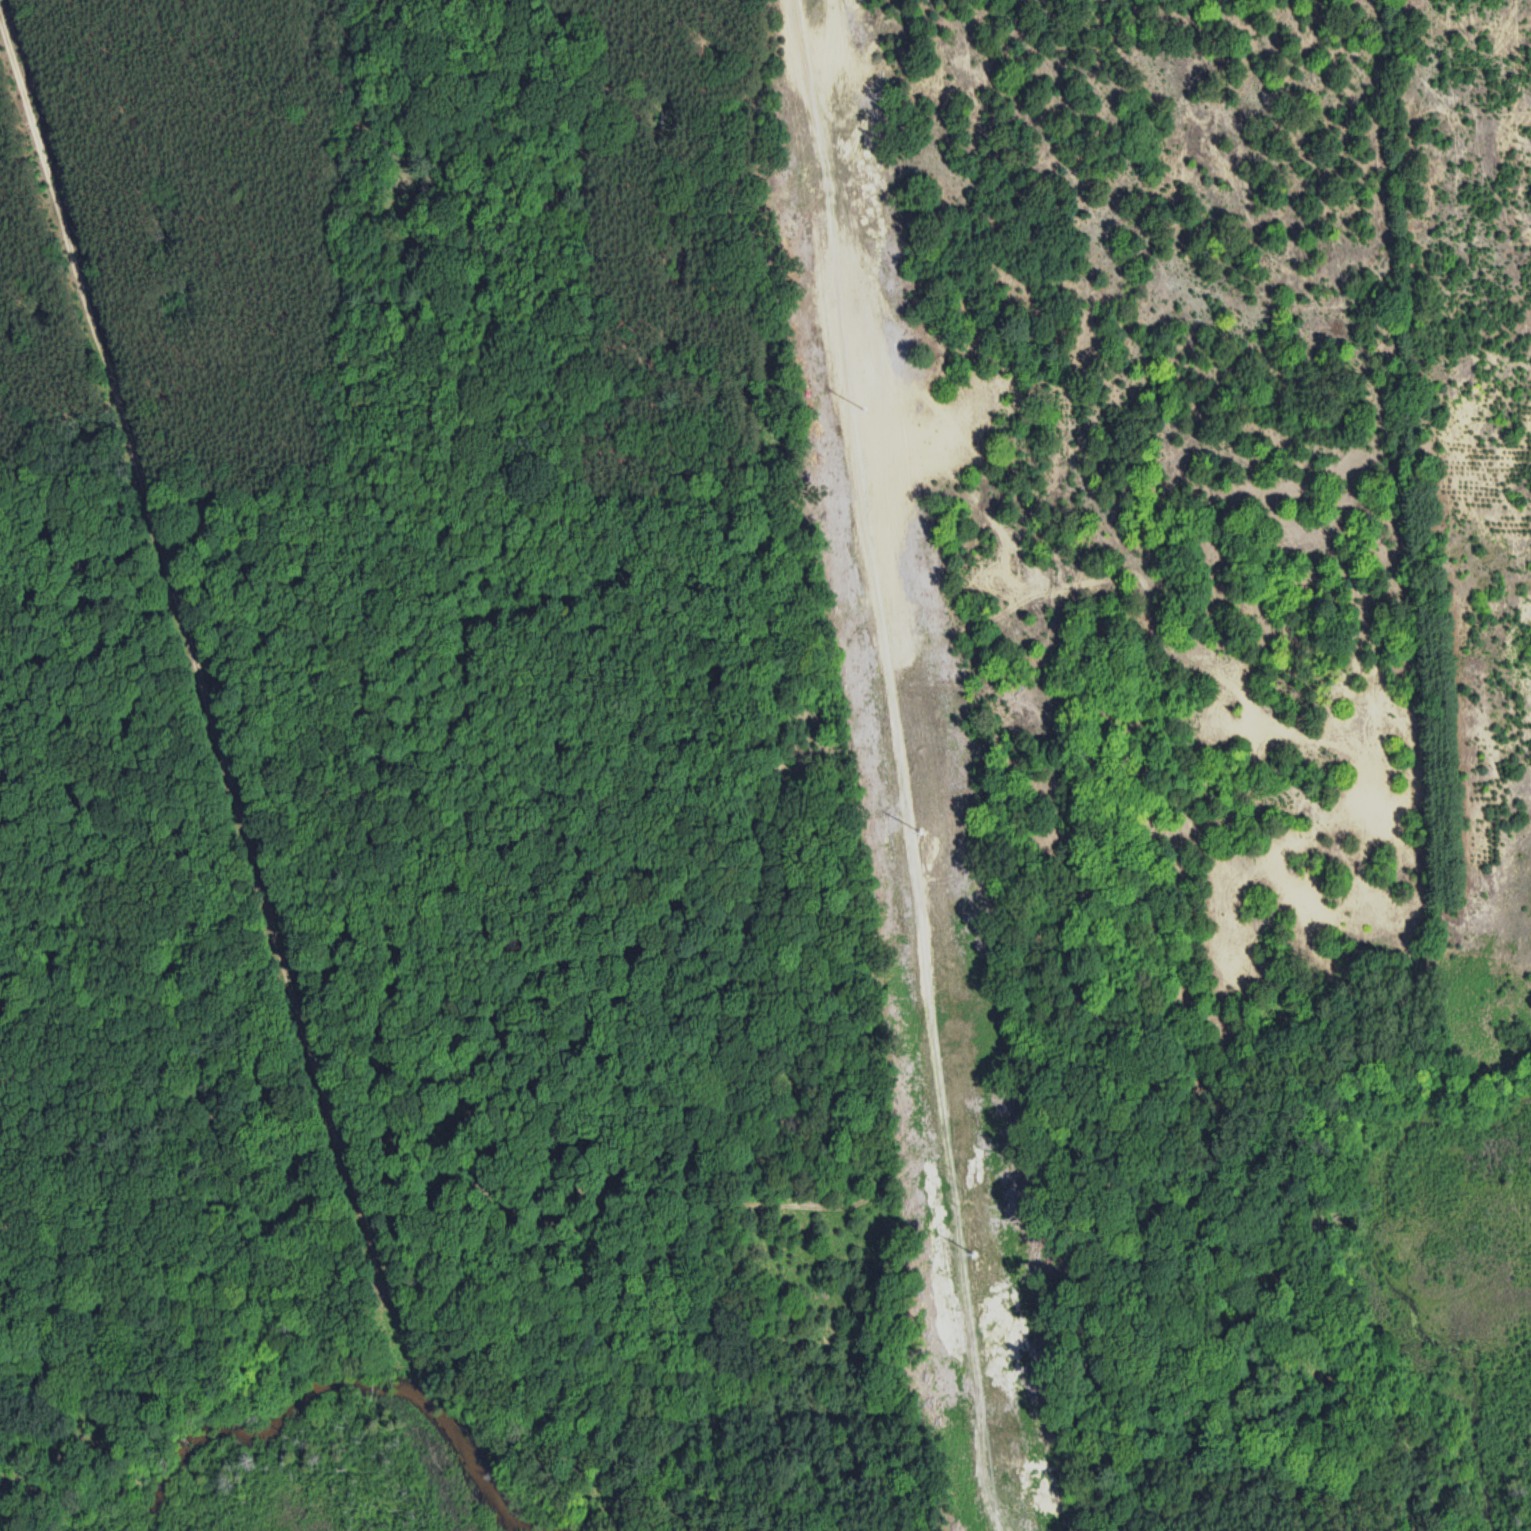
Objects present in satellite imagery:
road: (225, 1182)
river: (335, 1379)

